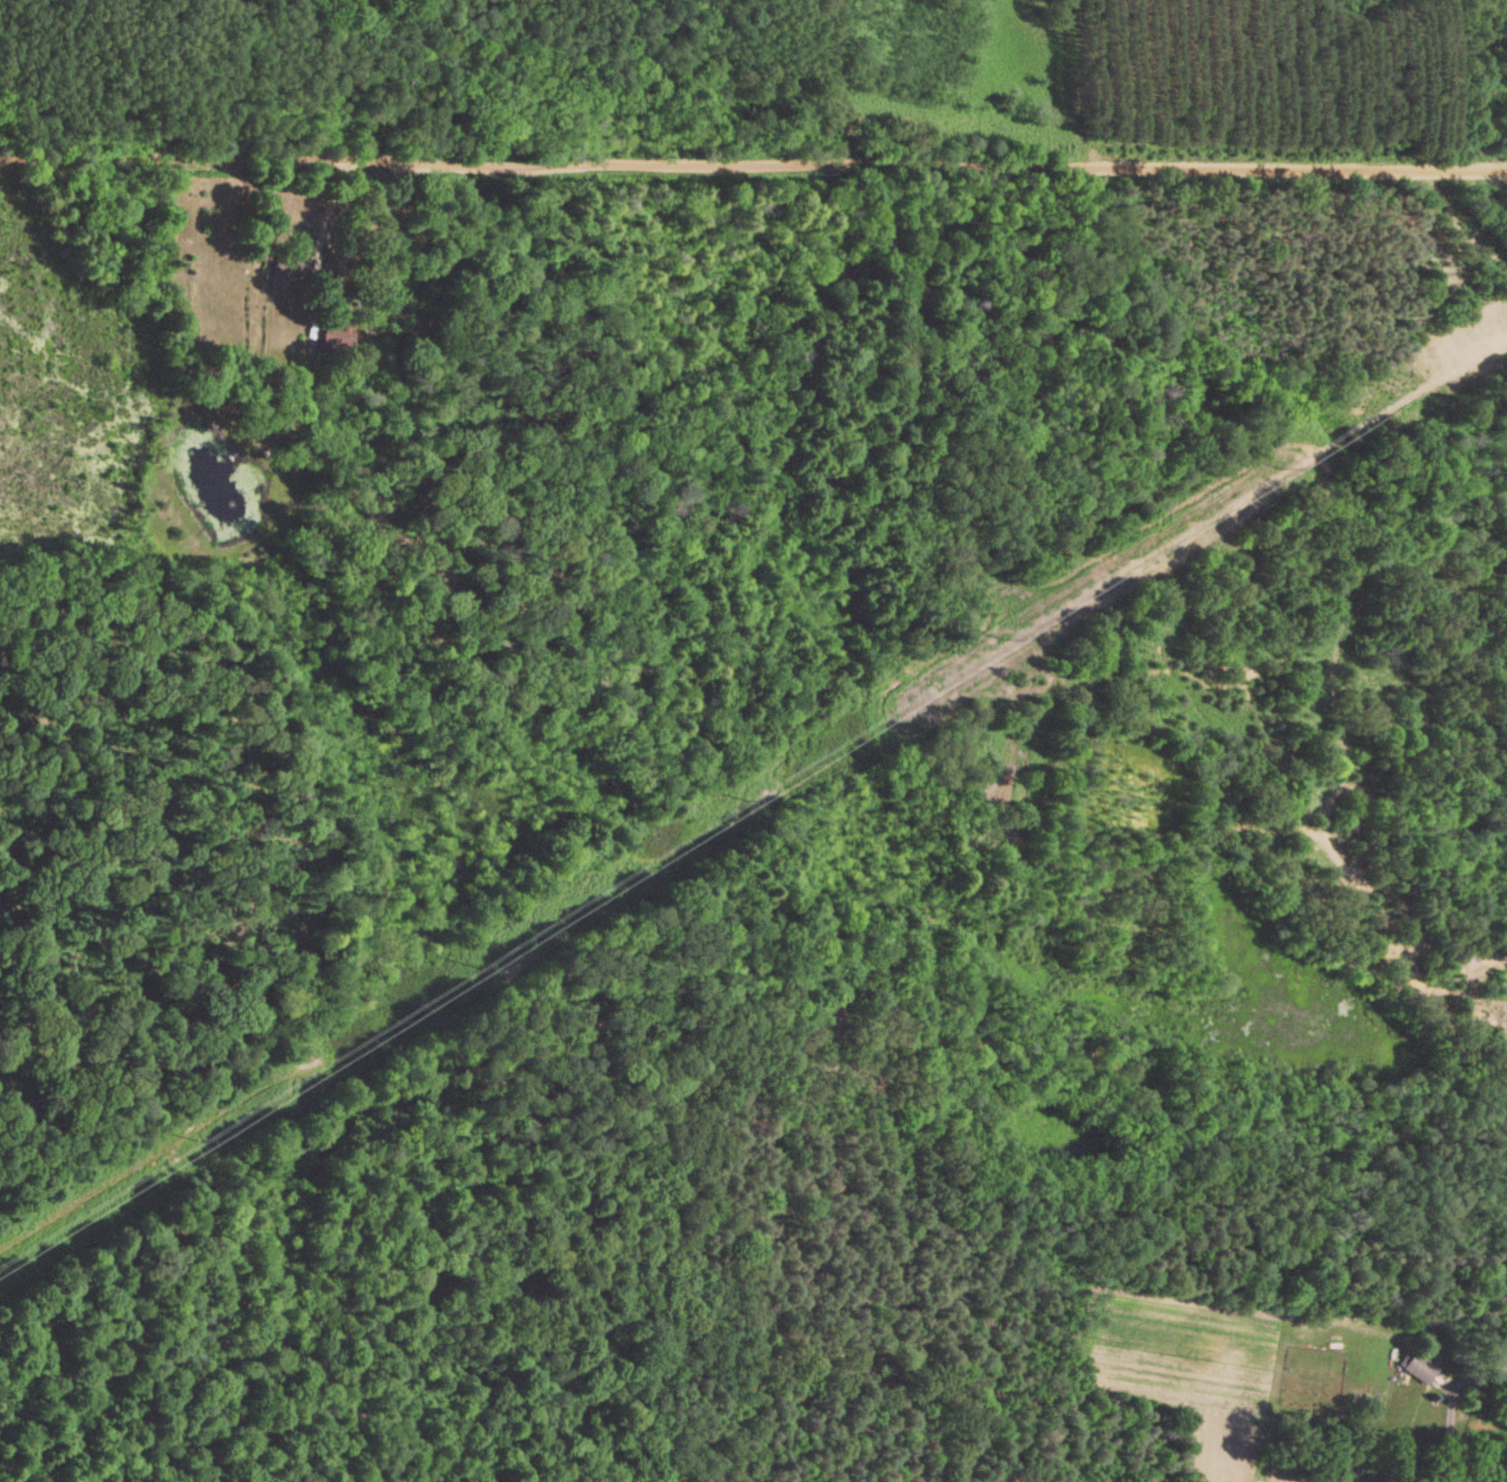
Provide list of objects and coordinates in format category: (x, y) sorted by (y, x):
road: (492, 71)
road: (753, 143)
building: (1414, 1368)

